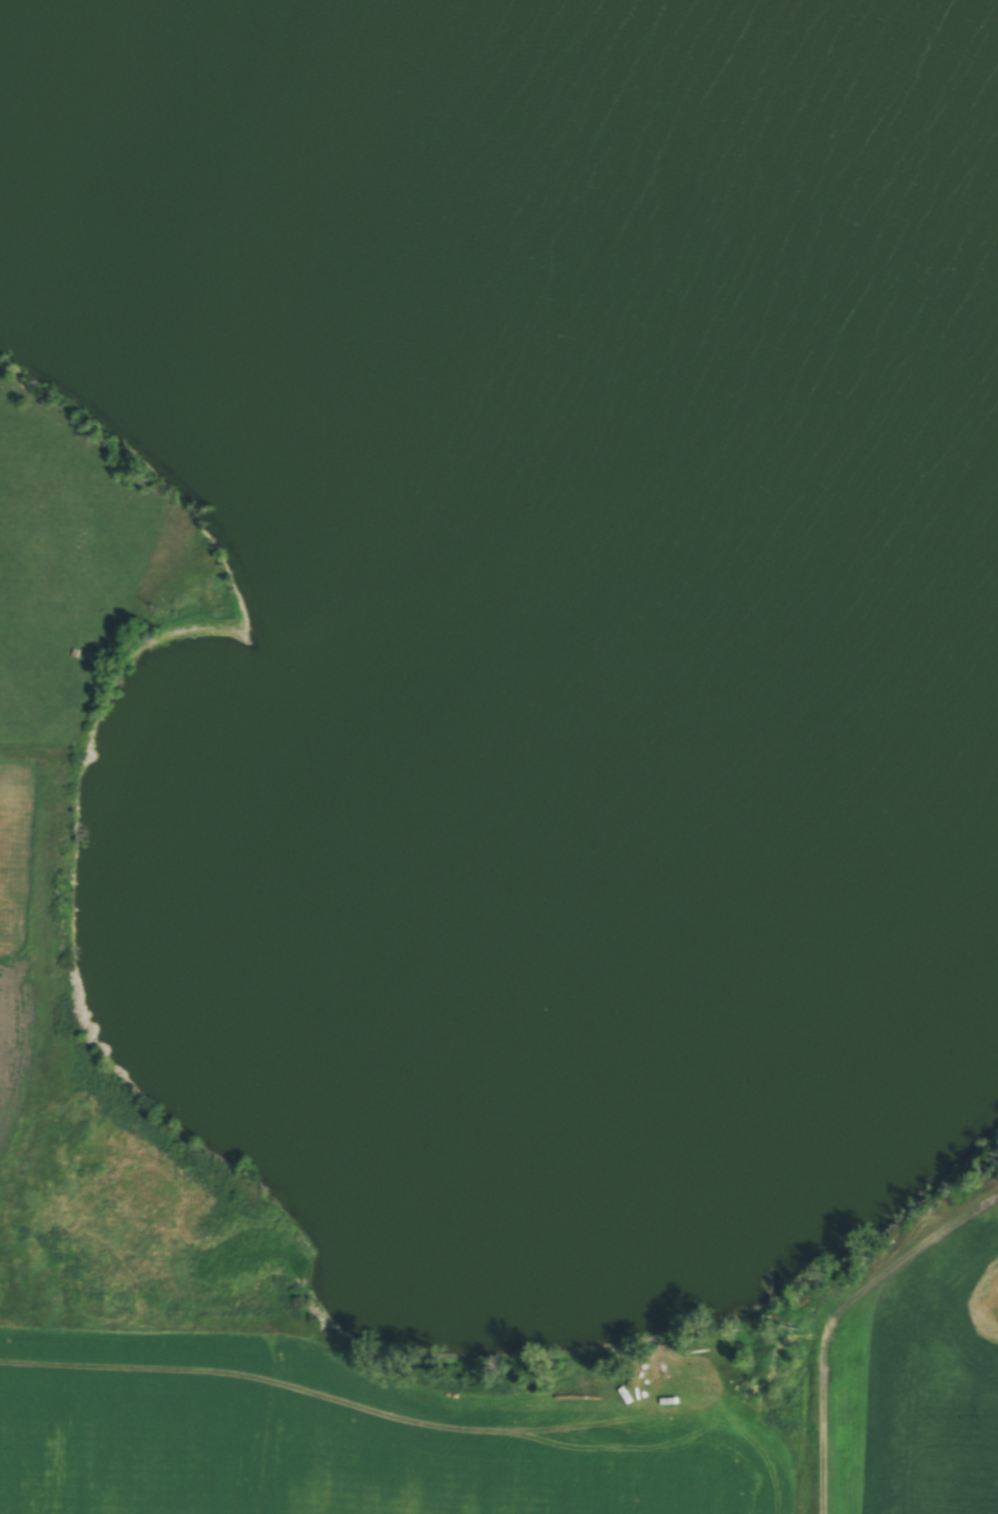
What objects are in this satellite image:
river: (172, 163)
river: (718, 245)
road: (49, 860)
road: (826, 1308)
road: (805, 1337)
road: (396, 1390)

